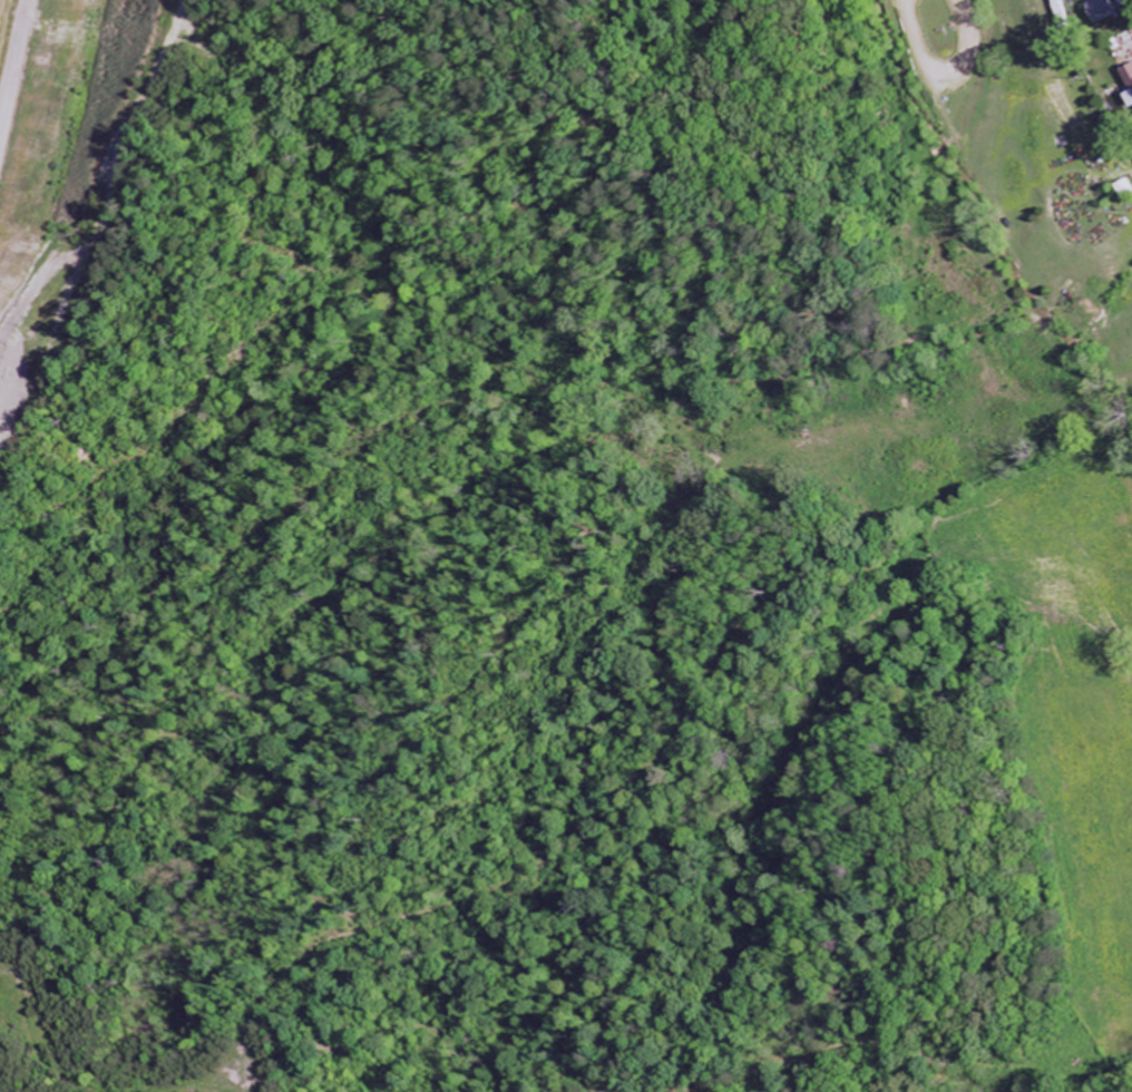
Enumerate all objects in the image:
building: (1126, 2)
building: (1106, 10)
building: (1130, 76)
building: (1131, 96)
road: (25, 114)
landfill: (66, 183)

